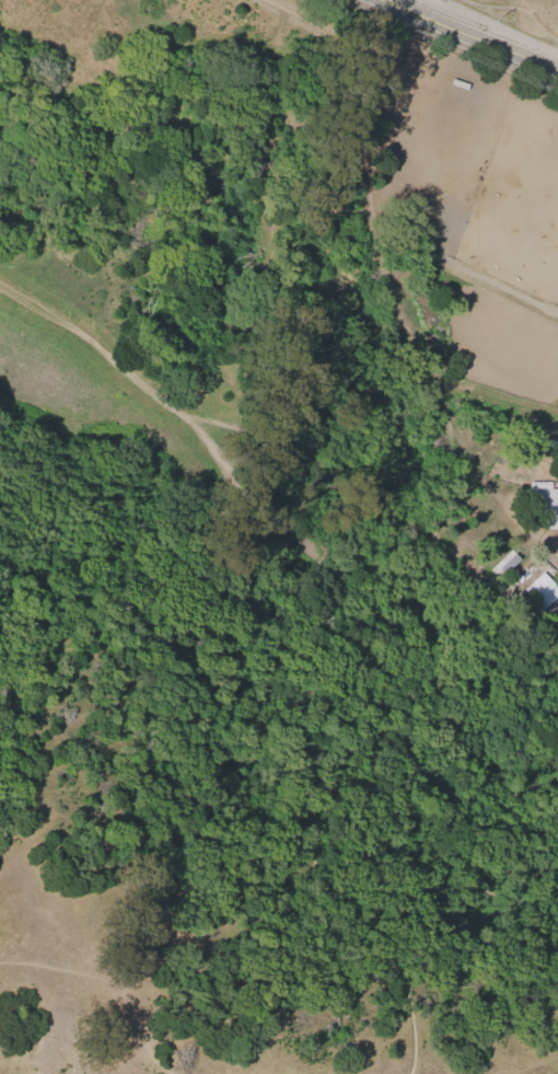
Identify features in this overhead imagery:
crop: (350, 23)
road: (472, 34)
road: (37, 304)
river: (345, 307)
road: (159, 391)
road: (143, 500)
building: (546, 503)
park: (226, 591)
building: (540, 591)
road: (393, 662)
road: (181, 686)

